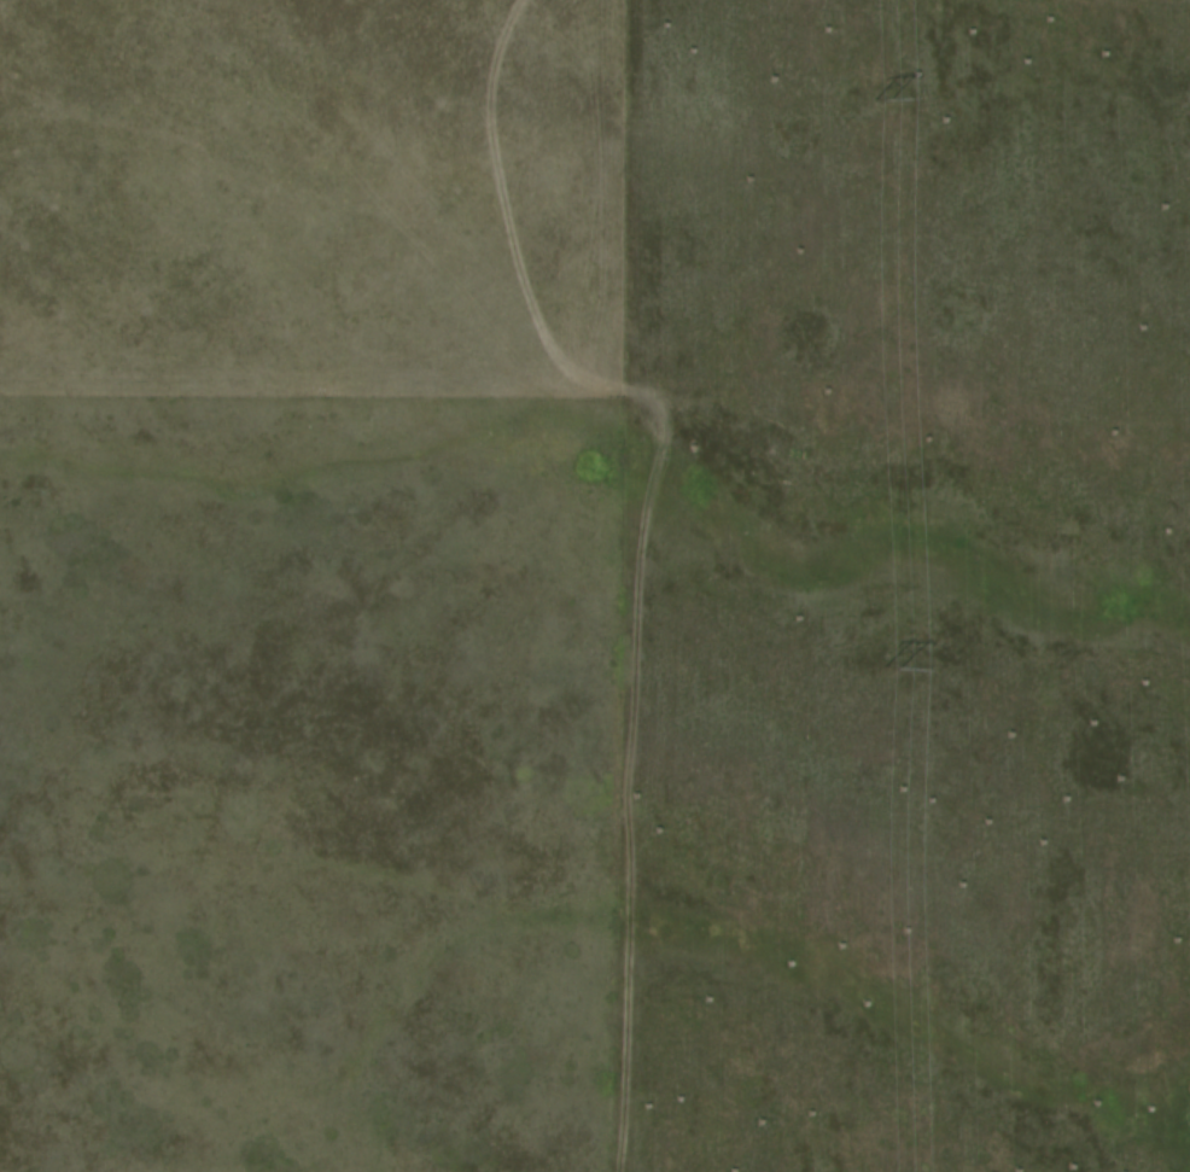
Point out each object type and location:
power tower: (879, 99)
power tower: (886, 667)

